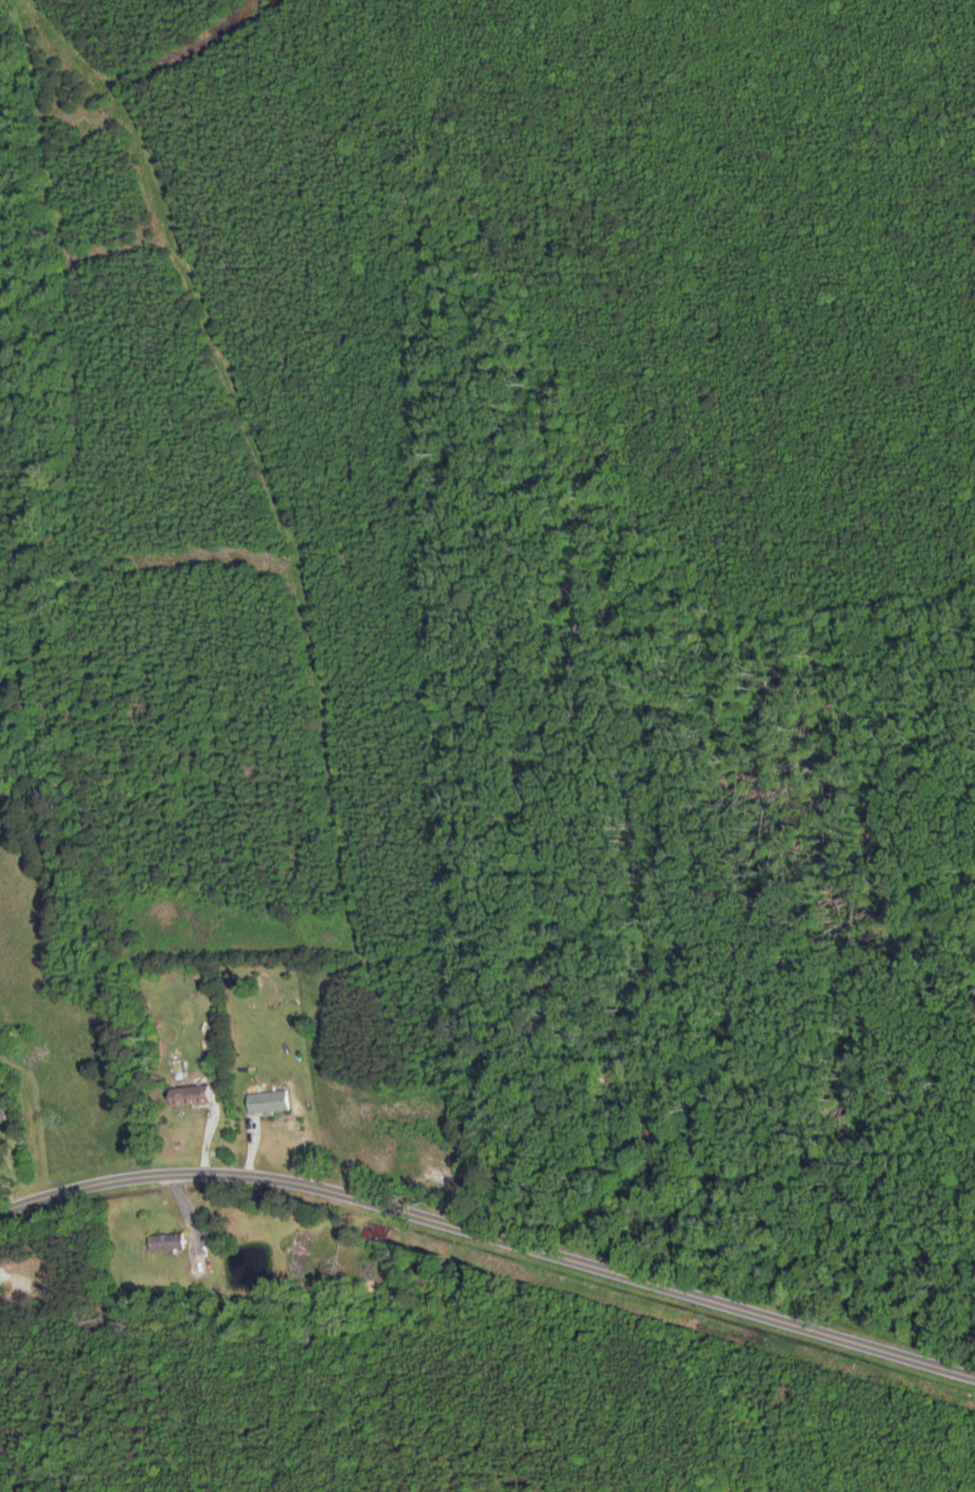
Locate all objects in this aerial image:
building: (0, 1076)
building: (194, 1097)
building: (271, 1103)
building: (7, 1108)
road: (492, 1235)
building: (170, 1241)
building: (300, 1250)

